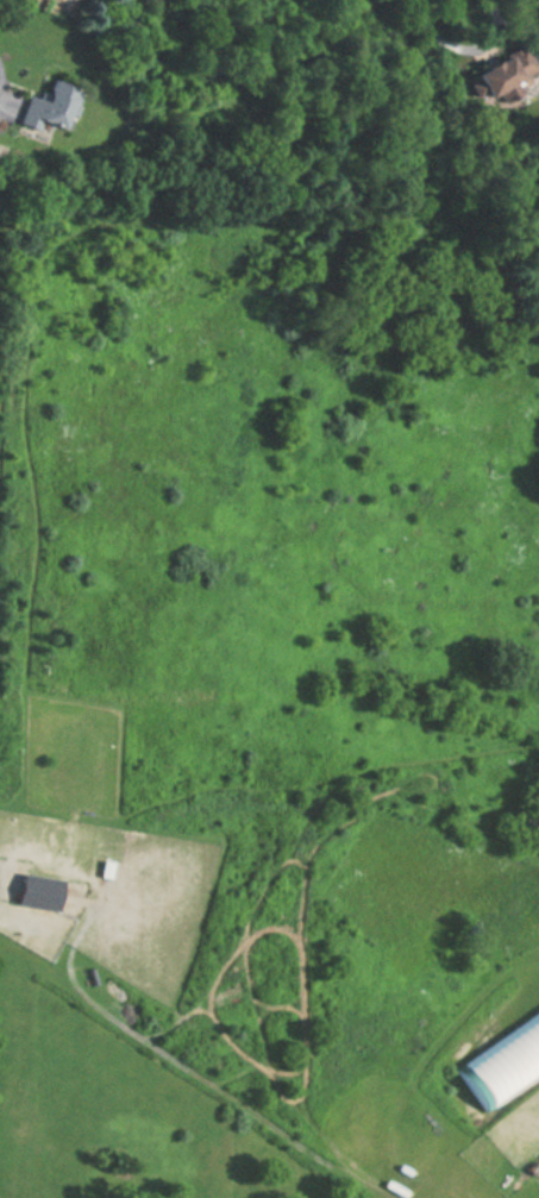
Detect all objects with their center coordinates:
road: (459, 46)
building: (504, 79)
building: (50, 105)
building: (38, 891)
building: (503, 1062)

